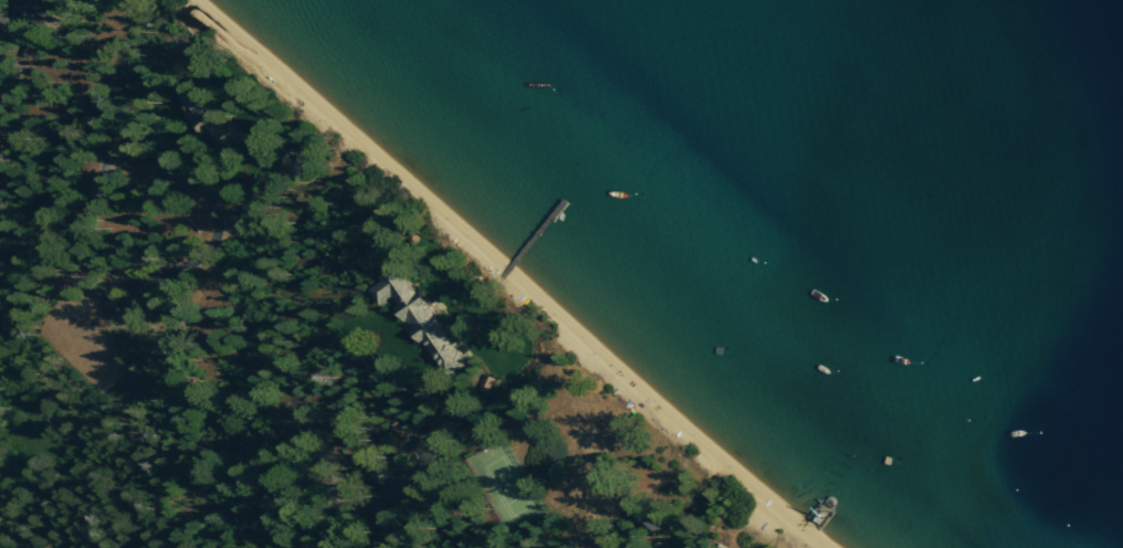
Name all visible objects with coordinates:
building: (38, 8)
road: (10, 52)
road: (219, 218)
pier: (535, 234)
building: (420, 318)
road: (305, 418)
road: (406, 478)
building: (636, 513)
road: (602, 516)

